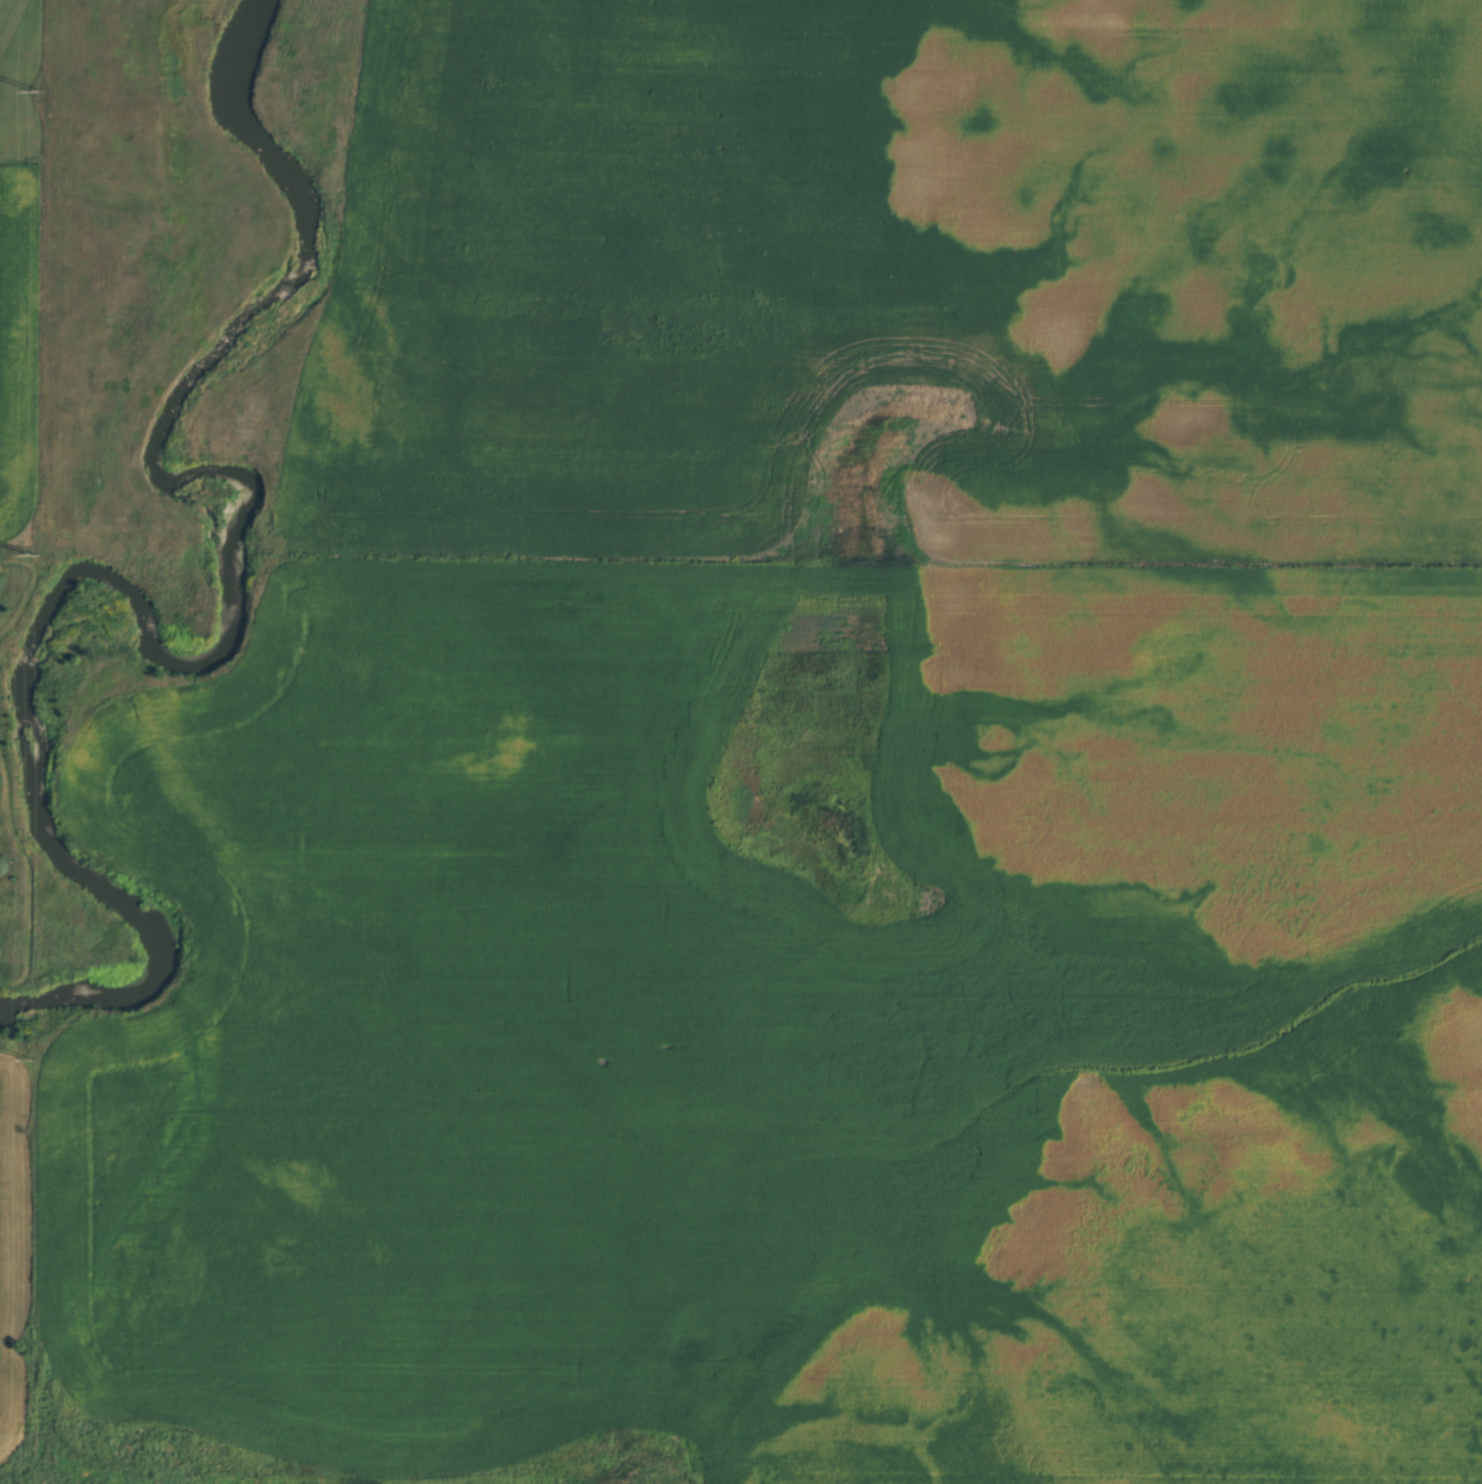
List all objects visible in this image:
power tower: (38, 92)
power tower: (34, 555)
power tower: (29, 1061)

